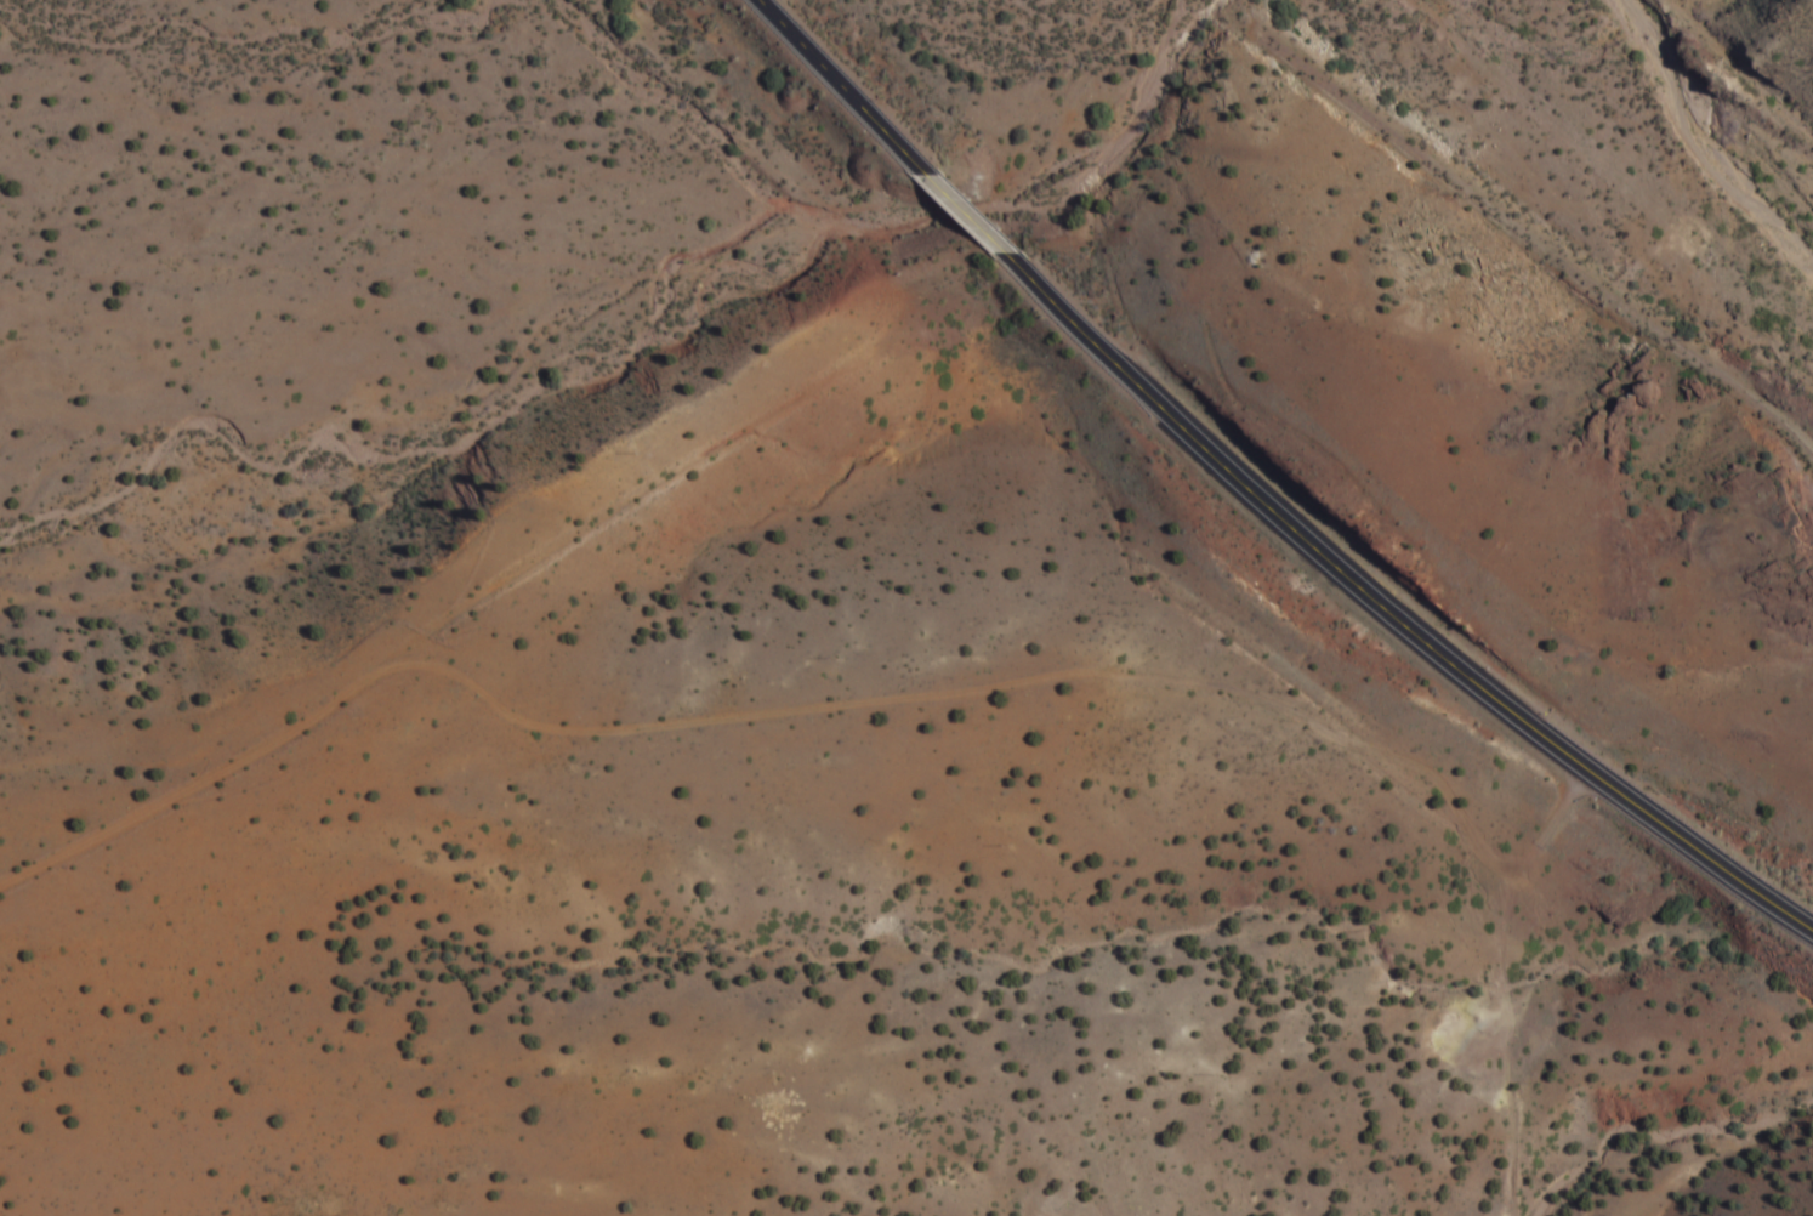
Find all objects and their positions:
road: (841, 90)
road: (971, 215)
road: (1383, 620)
road: (818, 703)
road: (1514, 1040)

